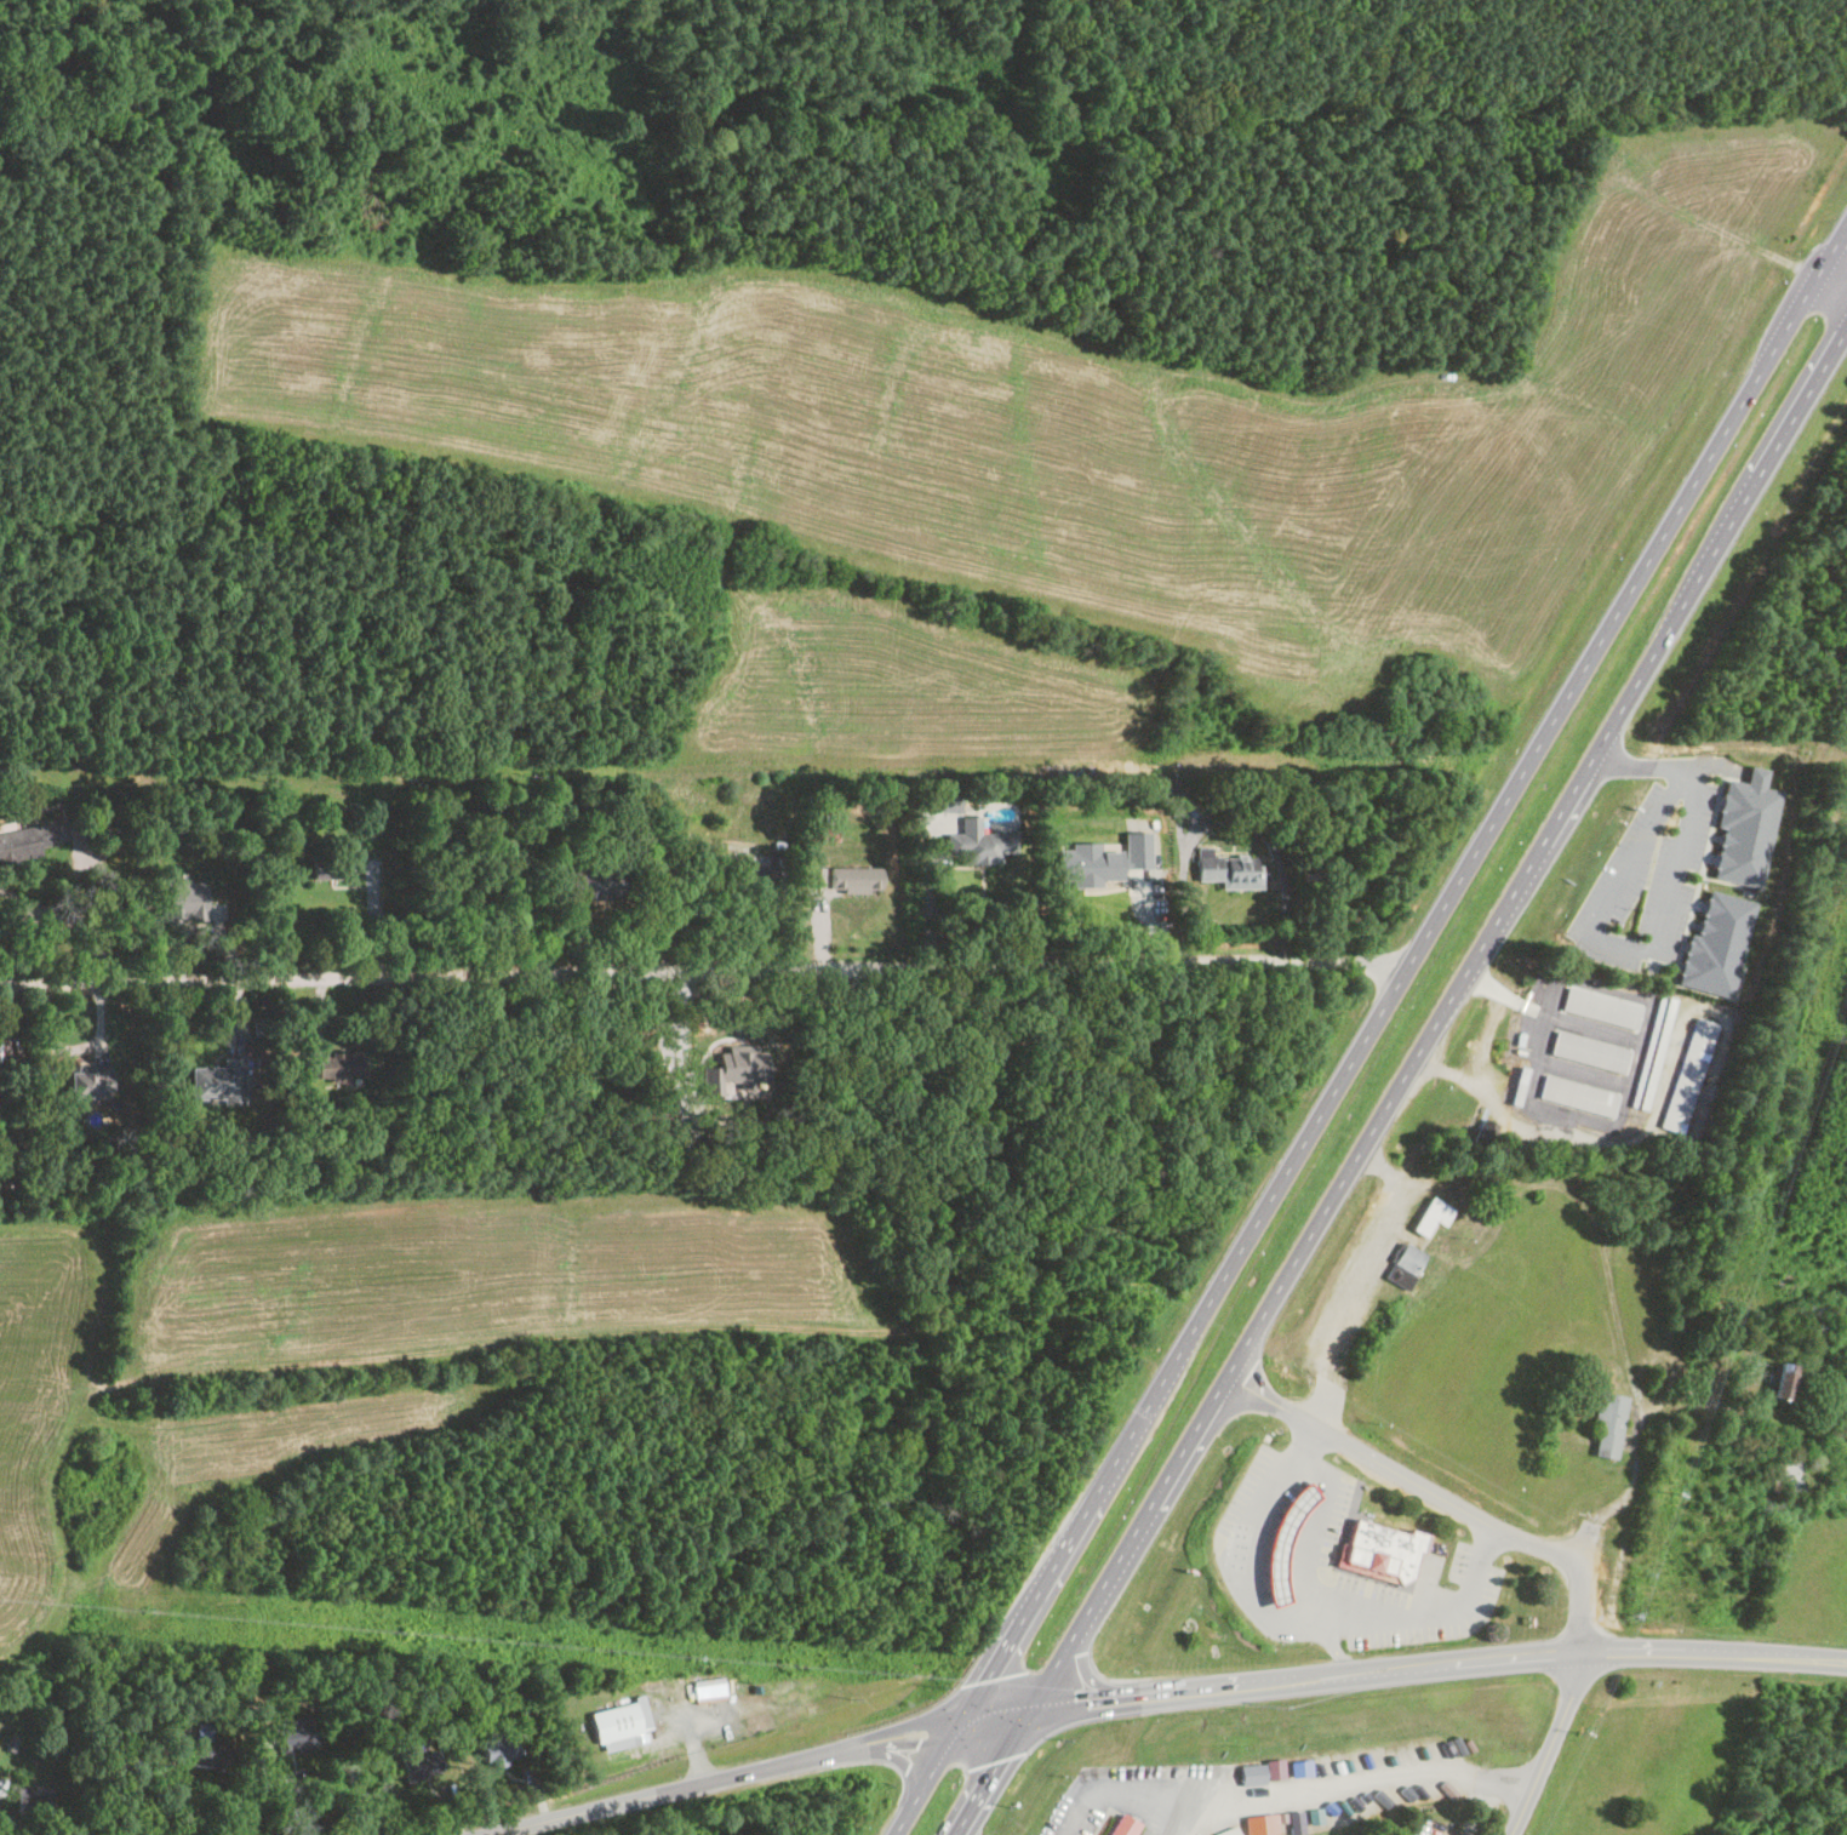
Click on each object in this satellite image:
road: (1831, 284)
building: (943, 800)
building: (1186, 802)
building: (103, 813)
road: (1231, 816)
building: (1745, 828)
building: (23, 841)
building: (978, 841)
building: (1104, 859)
building: (330, 864)
building: (1228, 868)
building: (814, 874)
building: (854, 876)
building: (757, 878)
building: (594, 880)
building: (183, 898)
road: (1660, 938)
building: (1714, 944)
road: (702, 967)
building: (1600, 1006)
road: (1368, 1028)
building: (1589, 1051)
building: (1652, 1051)
building: (333, 1064)
building: (734, 1065)
building: (1686, 1074)
building: (86, 1081)
building: (217, 1081)
road: (1401, 1081)
building: (1576, 1093)
road: (1721, 1205)
building: (1430, 1214)
building: (1403, 1264)
road: (1356, 1270)
building: (1788, 1380)
building: (1607, 1424)
road: (1442, 1488)
building: (1285, 1542)
building: (1384, 1550)
road: (1247, 1564)
road: (1331, 1604)
road: (1328, 1636)
road: (1626, 1651)
road: (1348, 1665)
traffic signals: (991, 1677)
road: (1350, 1677)
traffic signals: (1080, 1703)
building: (619, 1721)
traffic signals: (919, 1733)
building: (291, 1737)
road: (885, 1740)
road: (1554, 1743)
building: (501, 1750)
traffic signals: (996, 1760)
building: (418, 1765)
building: (1246, 1770)
road: (287, 1784)
road: (1290, 1785)
building: (32, 1803)
road: (1186, 1813)
building: (1122, 1825)
building: (1248, 1828)
building: (1226, 1831)

